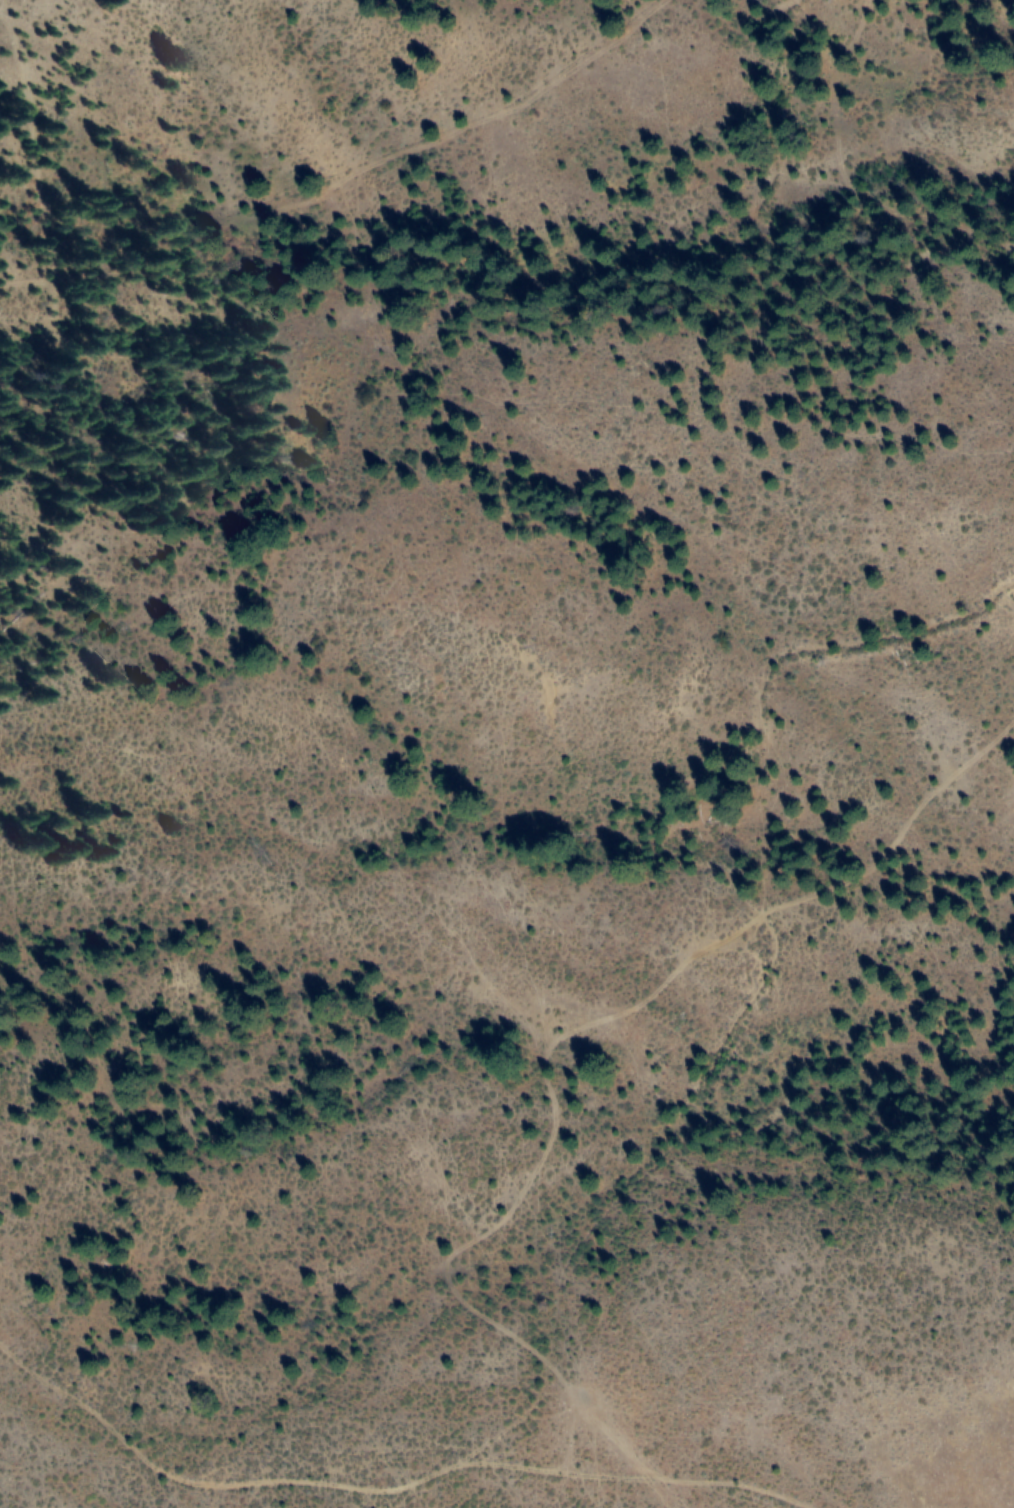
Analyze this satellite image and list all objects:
road: (345, 1506)

